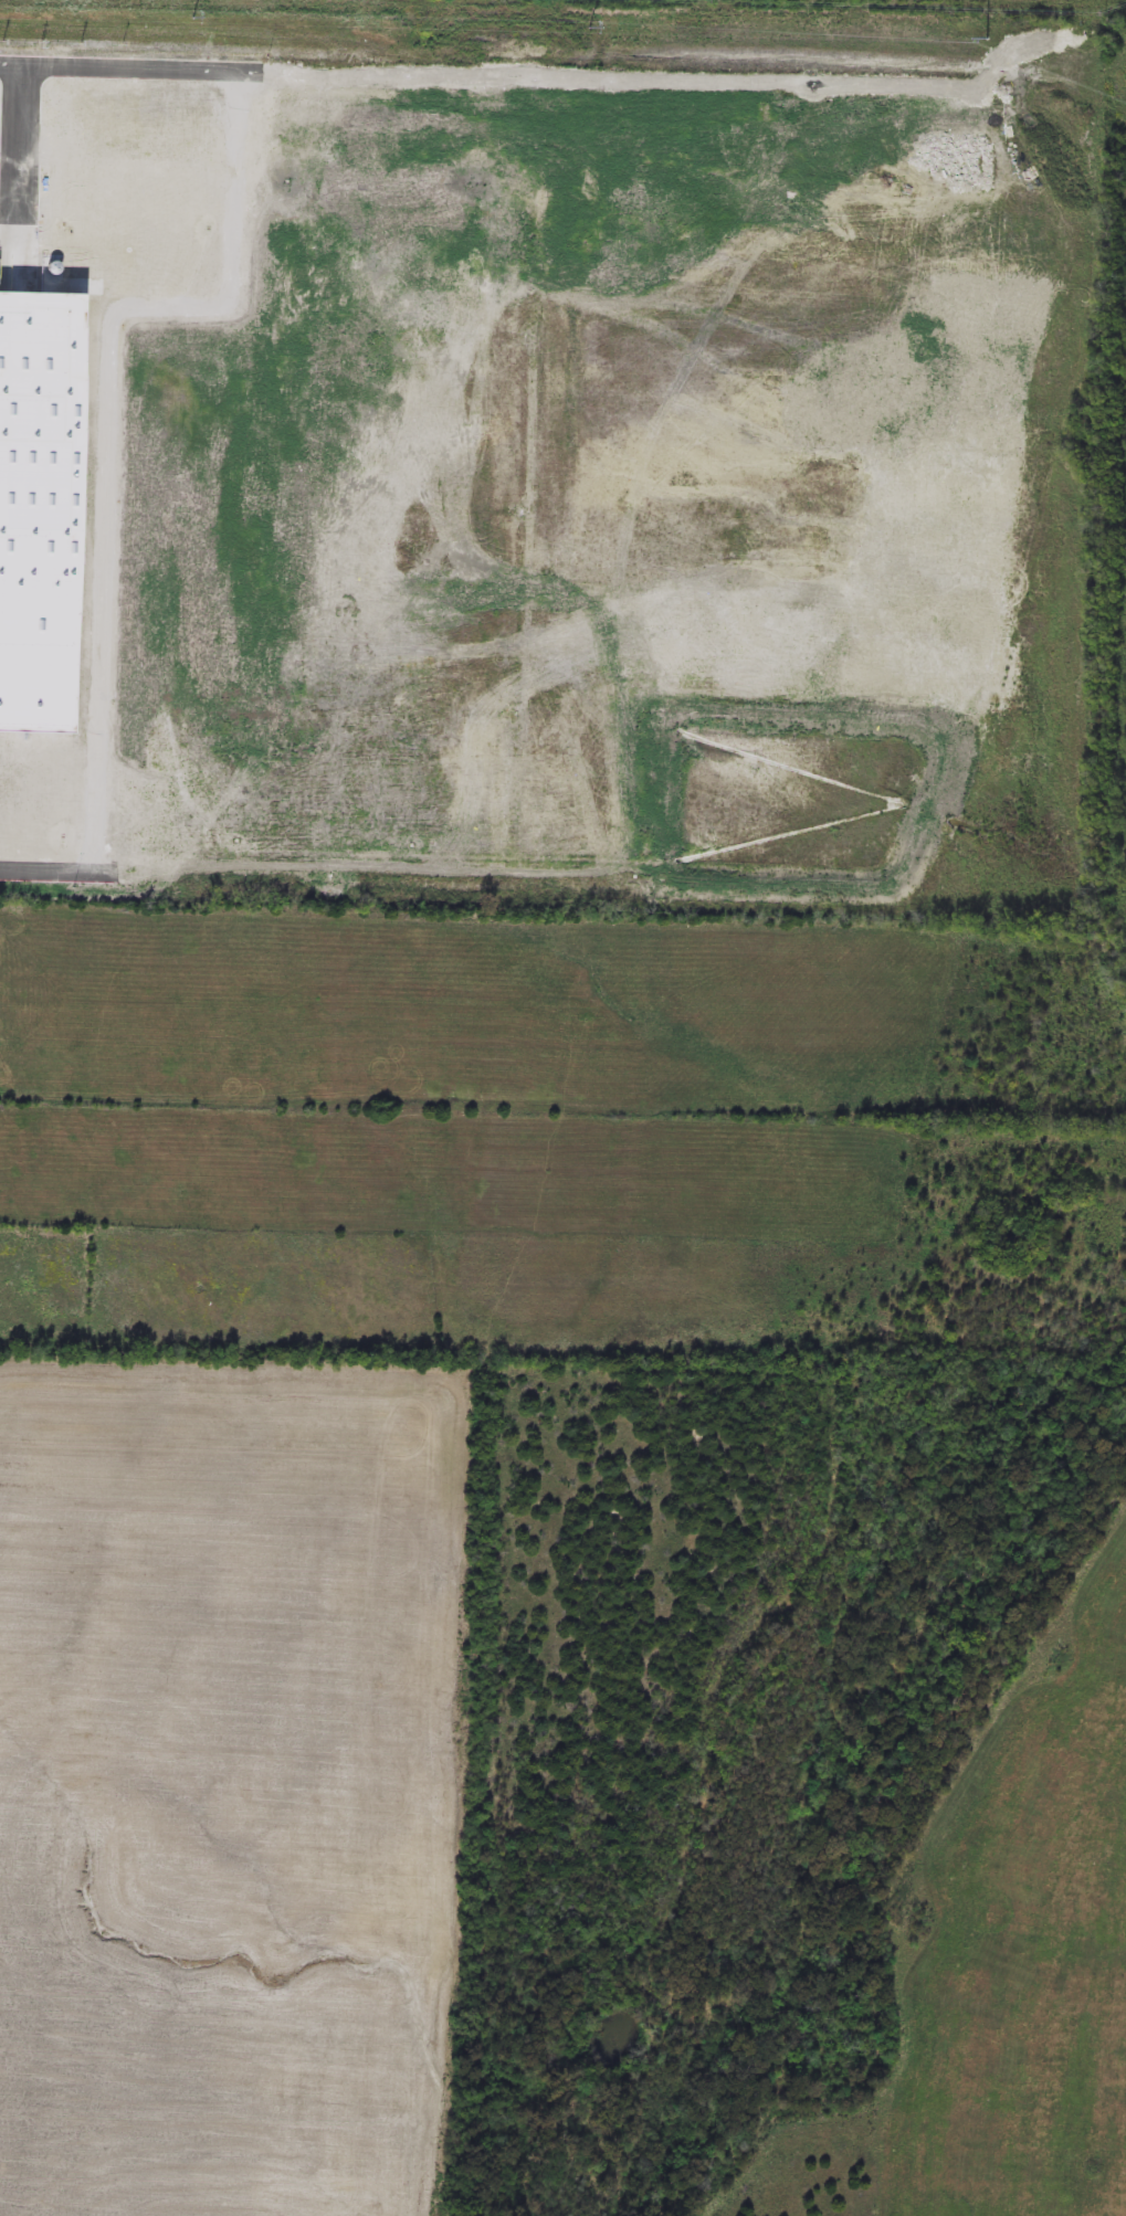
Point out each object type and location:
road: (131, 71)
road: (669, 83)
road: (22, 147)
road: (108, 420)
building: (40, 509)
road: (60, 870)

